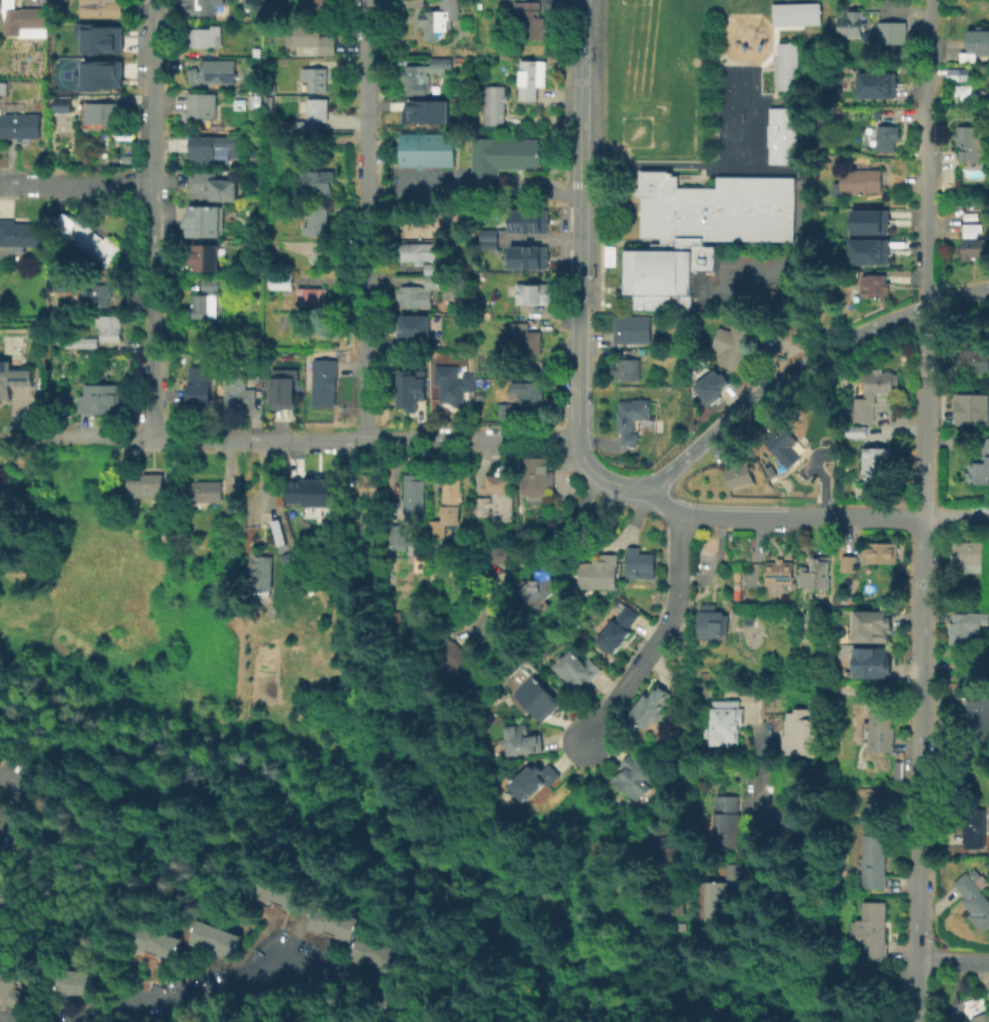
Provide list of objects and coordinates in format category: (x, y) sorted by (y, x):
road: (31, 0)
building: (323, 5)
building: (103, 7)
building: (201, 7)
building: (795, 13)
building: (20, 17)
park: (646, 17)
building: (439, 18)
building: (531, 18)
building: (850, 23)
building: (889, 32)
building: (204, 37)
building: (313, 37)
building: (101, 38)
building: (977, 44)
road: (772, 48)
building: (785, 65)
road: (766, 68)
building: (219, 71)
building: (39, 72)
building: (423, 74)
building: (101, 75)
building: (315, 78)
building: (531, 78)
building: (875, 84)
park: (726, 89)
road: (151, 93)
building: (967, 93)
building: (264, 101)
park: (758, 101)
building: (60, 103)
building: (240, 103)
building: (494, 104)
building: (201, 105)
park: (725, 105)
park: (741, 108)
building: (424, 111)
building: (103, 113)
building: (312, 115)
park: (652, 119)
park: (720, 124)
park: (741, 124)
building: (20, 125)
road: (258, 132)
park: (740, 134)
building: (780, 135)
building: (887, 136)
building: (970, 142)
building: (426, 149)
building: (214, 150)
road: (927, 153)
building: (502, 157)
park: (759, 160)
road: (647, 165)
building: (316, 180)
building: (860, 180)
road: (77, 184)
building: (211, 187)
road: (473, 193)
building: (204, 218)
road: (366, 220)
road: (579, 220)
building: (317, 221)
building: (523, 221)
building: (865, 221)
building: (698, 230)
building: (18, 237)
building: (87, 239)
building: (486, 239)
building: (972, 241)
building: (530, 242)
building: (867, 251)
building: (423, 255)
building: (205, 257)
building: (253, 266)
building: (282, 280)
building: (435, 280)
building: (60, 284)
building: (875, 284)
building: (533, 293)
building: (96, 296)
building: (312, 296)
building: (414, 296)
building: (205, 300)
road: (153, 312)
building: (54, 322)
building: (109, 327)
building: (415, 328)
building: (632, 328)
building: (527, 337)
building: (82, 343)
building: (733, 344)
building: (973, 359)
road: (804, 362)
building: (626, 368)
building: (14, 382)
building: (324, 382)
building: (879, 382)
building: (453, 383)
building: (200, 384)
building: (711, 385)
building: (411, 387)
building: (285, 389)
building: (239, 390)
building: (529, 392)
building: (99, 398)
building: (974, 409)
building: (506, 410)
road: (923, 411)
building: (866, 414)
building: (631, 417)
building: (857, 430)
road: (87, 438)
road: (365, 441)
building: (790, 449)
building: (878, 462)
building: (980, 466)
building: (740, 473)
building: (536, 476)
road: (263, 477)
road: (603, 477)
building: (147, 485)
building: (369, 485)
building: (206, 490)
building: (312, 490)
building: (452, 494)
building: (415, 497)
building: (494, 497)
road: (661, 501)
road: (801, 514)
road: (955, 515)
building: (438, 528)
building: (170, 534)
building: (402, 535)
building: (883, 552)
building: (503, 553)
building: (969, 554)
building: (639, 563)
building: (850, 563)
building: (601, 571)
building: (779, 571)
building: (816, 573)
building: (262, 575)
building: (545, 585)
building: (377, 589)
building: (711, 625)
building: (620, 627)
building: (876, 627)
building: (393, 628)
building: (963, 629)
road: (658, 633)
building: (875, 664)
building: (466, 669)
building: (578, 669)
building: (540, 697)
building: (650, 707)
building: (978, 716)
building: (727, 722)
road: (681, 725)
building: (881, 730)
building: (800, 732)
building: (527, 740)
road: (919, 769)
building: (635, 778)
building: (534, 781)
road: (30, 803)
building: (727, 822)
building: (975, 827)
building: (797, 830)
building: (662, 849)
building: (875, 861)
building: (279, 893)
road: (775, 893)
building: (1, 894)
building: (10, 895)
building: (975, 897)
building: (720, 900)
building: (802, 900)
building: (675, 908)
building: (330, 922)
building: (874, 927)
building: (215, 939)
building: (154, 942)
building: (374, 954)
road: (952, 962)
building: (6, 983)
building: (72, 983)
road: (222, 989)
building: (18, 999)
building: (404, 1000)
building: (977, 1010)
road: (1, 1021)

